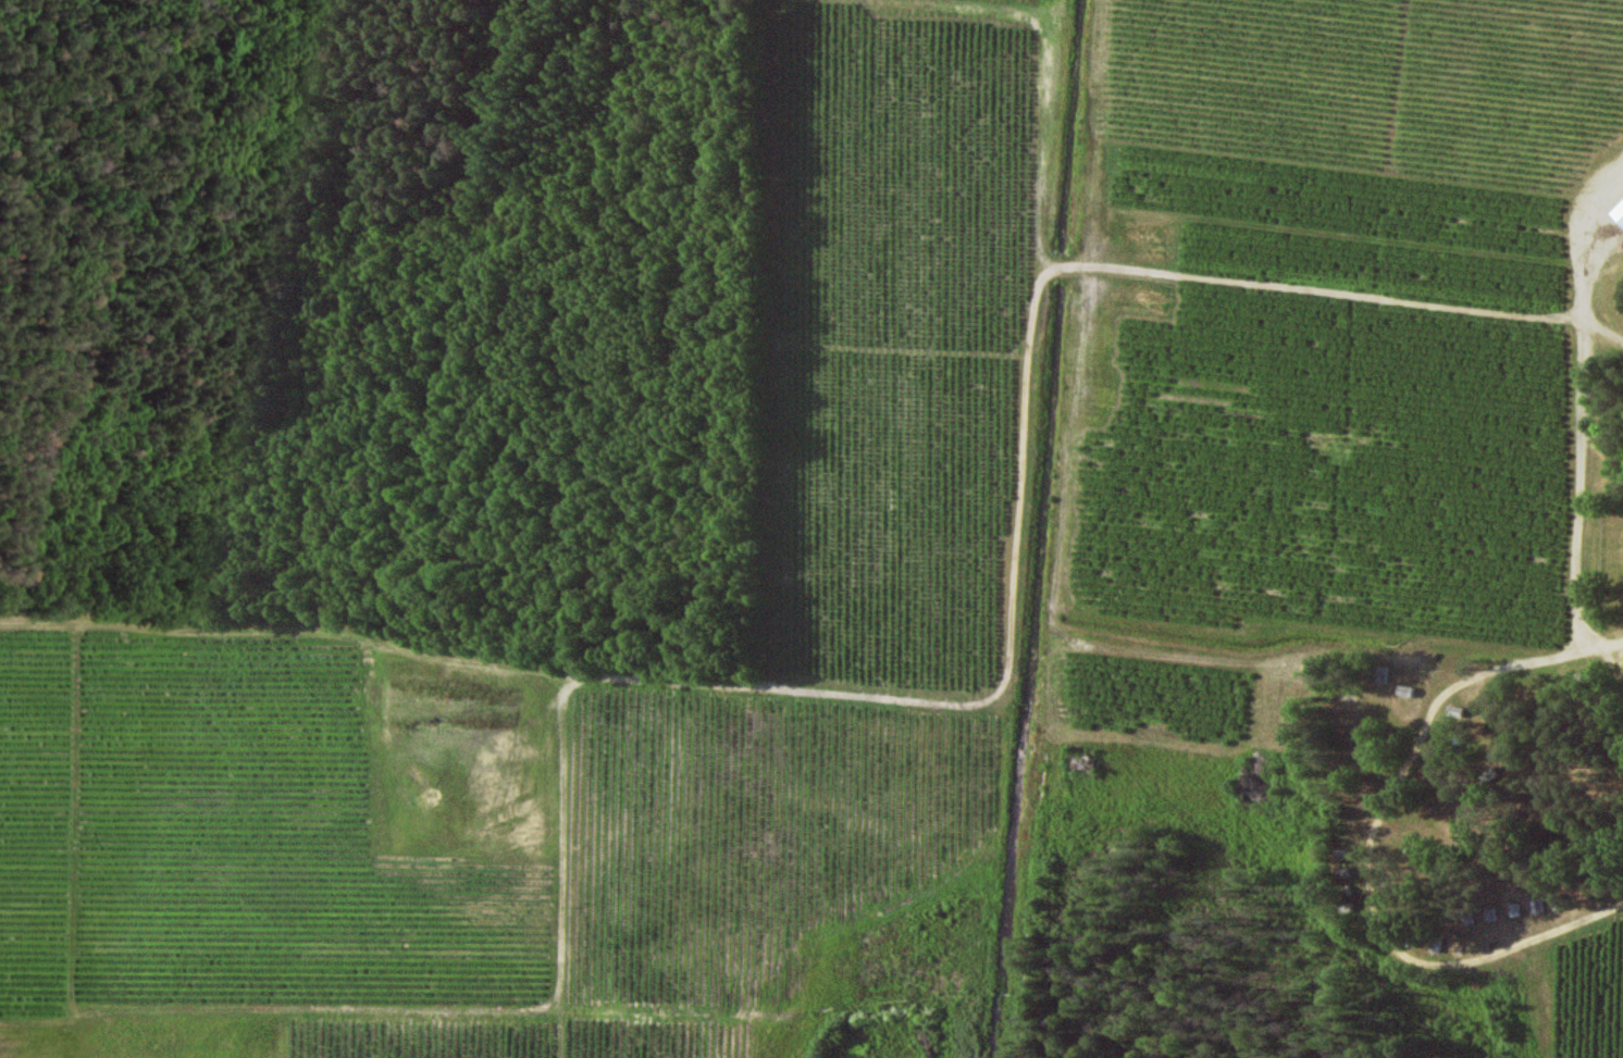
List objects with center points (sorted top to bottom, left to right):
building: (1618, 213)
road: (1501, 664)

